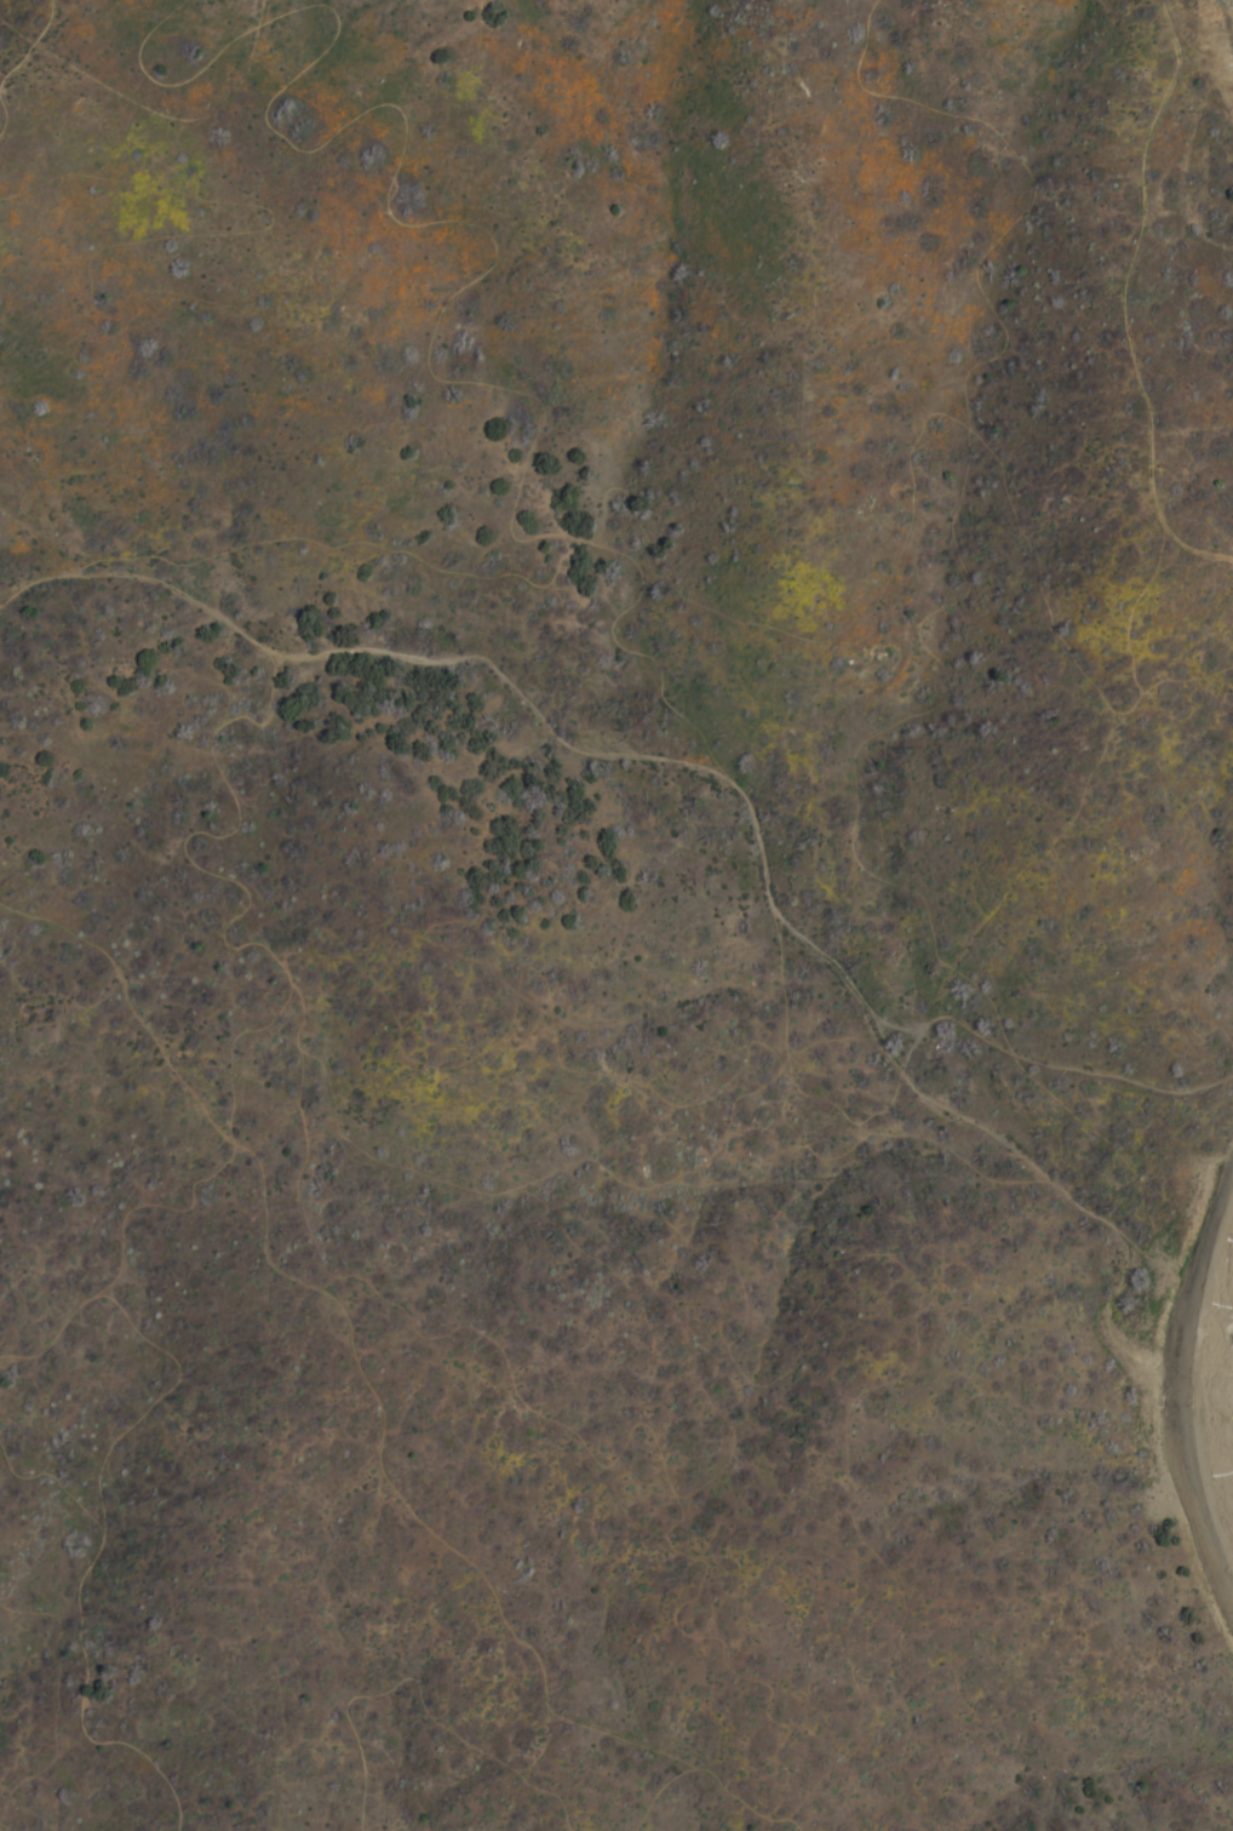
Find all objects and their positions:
road: (732, 772)

